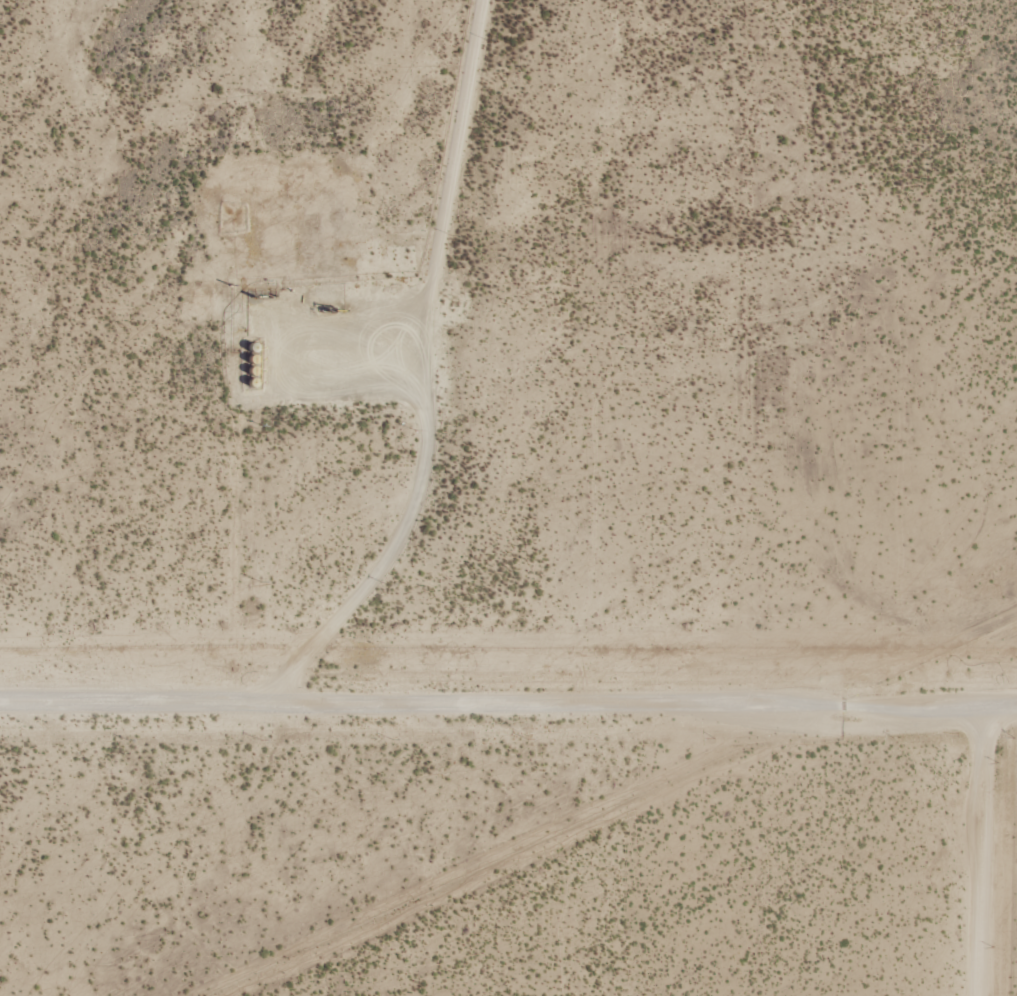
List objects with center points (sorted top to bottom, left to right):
road: (508, 701)
road: (1011, 970)

